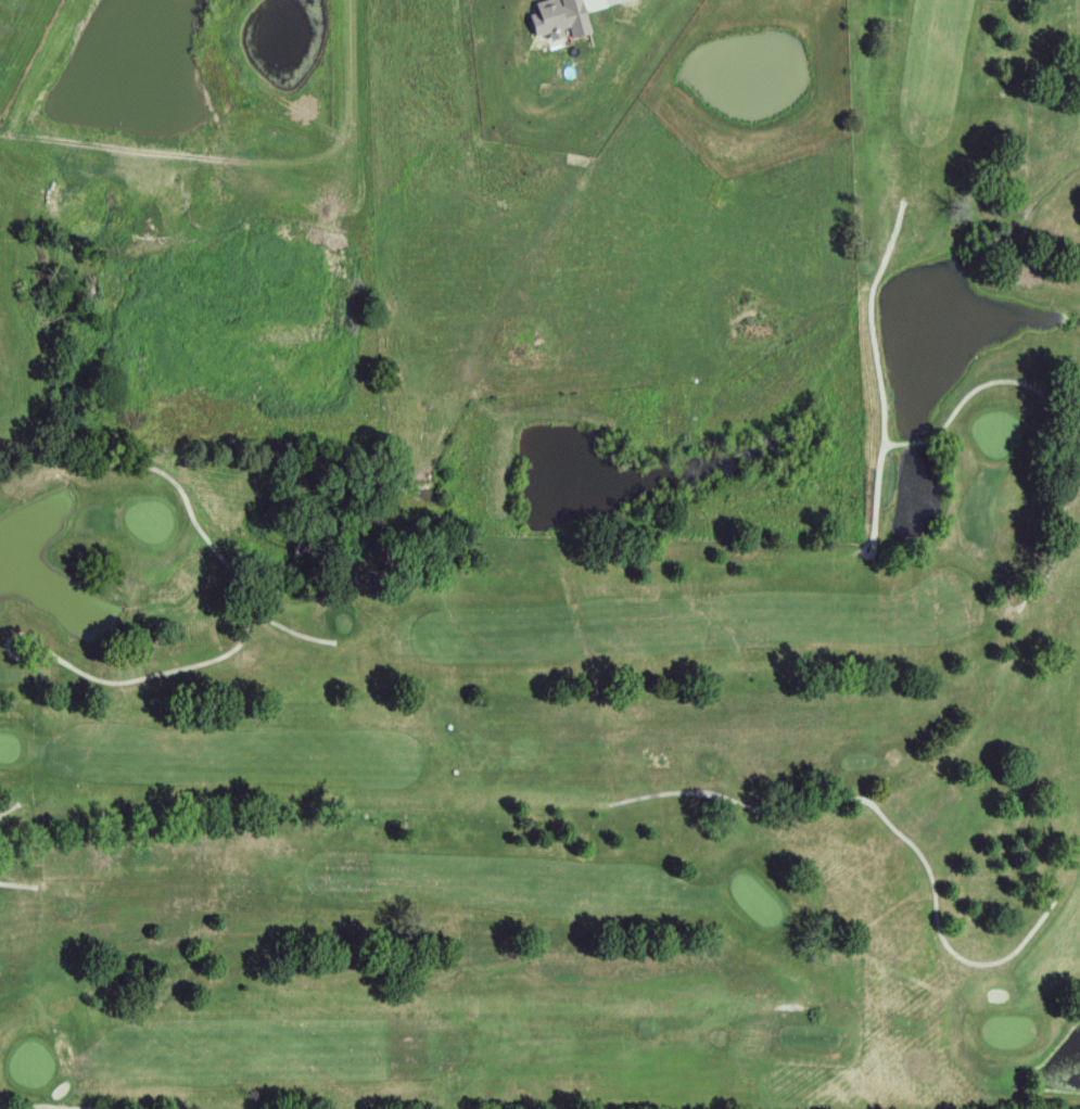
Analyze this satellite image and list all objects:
road: (867, 318)
road: (1016, 381)
road: (188, 508)
road: (149, 675)
park: (599, 719)
road: (7, 808)
road: (18, 883)
road: (117, 1108)

